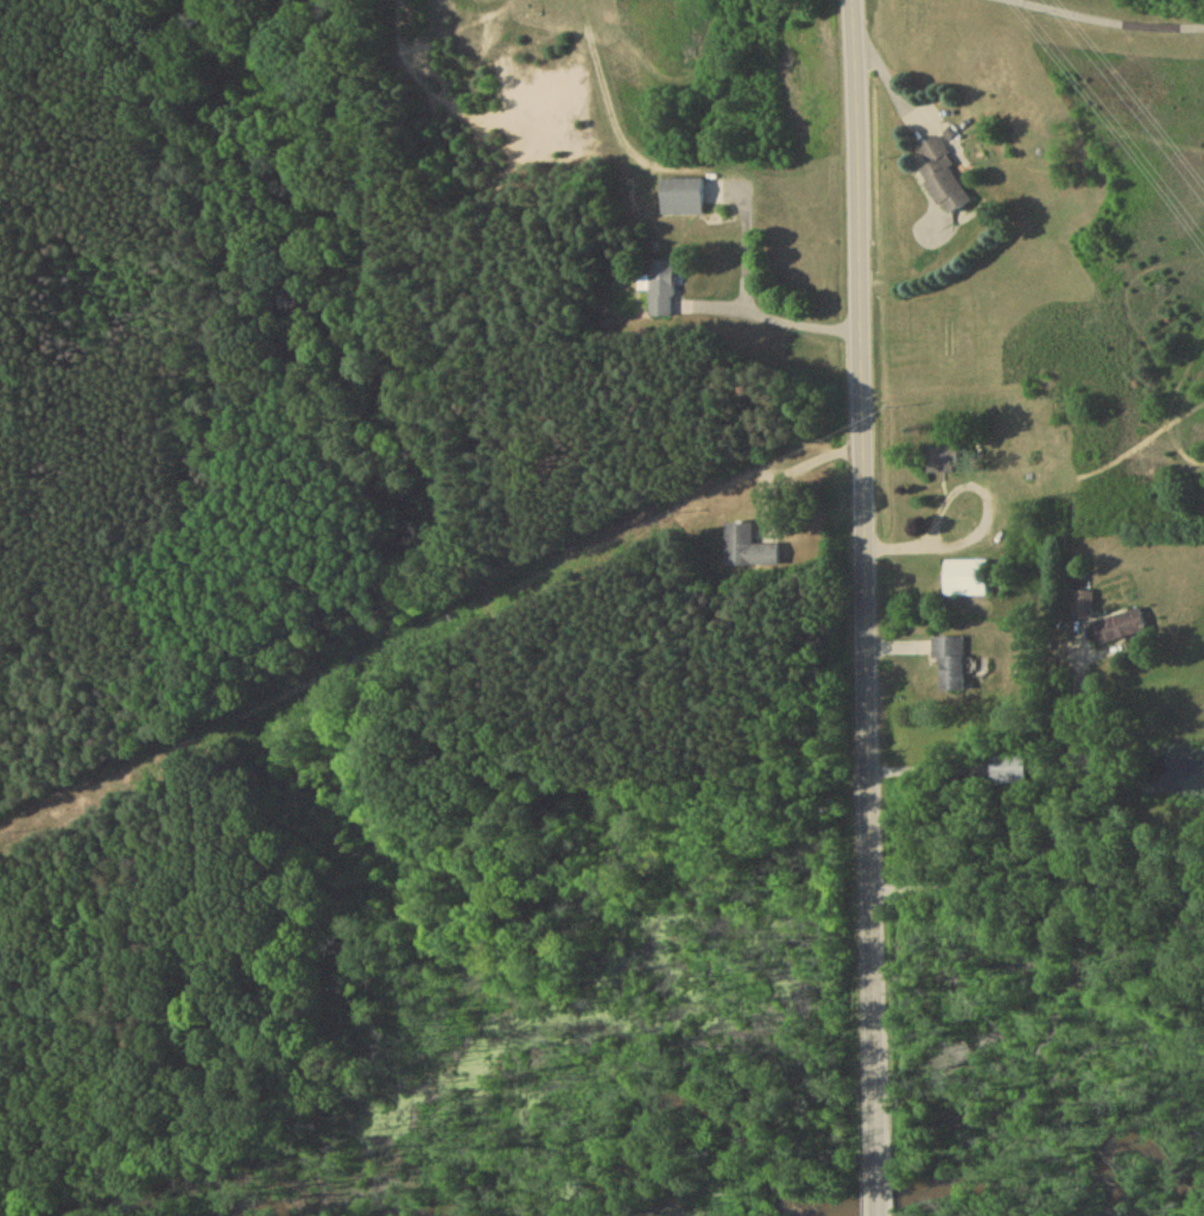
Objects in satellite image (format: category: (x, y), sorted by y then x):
road: (1105, 21)
building: (942, 183)
building: (680, 201)
building: (659, 291)
road: (746, 312)
building: (943, 461)
road: (796, 473)
road: (983, 524)
building: (748, 550)
building: (965, 581)
road: (866, 607)
building: (1081, 607)
building: (1120, 629)
building: (950, 666)
building: (1009, 772)
road: (1054, 812)

